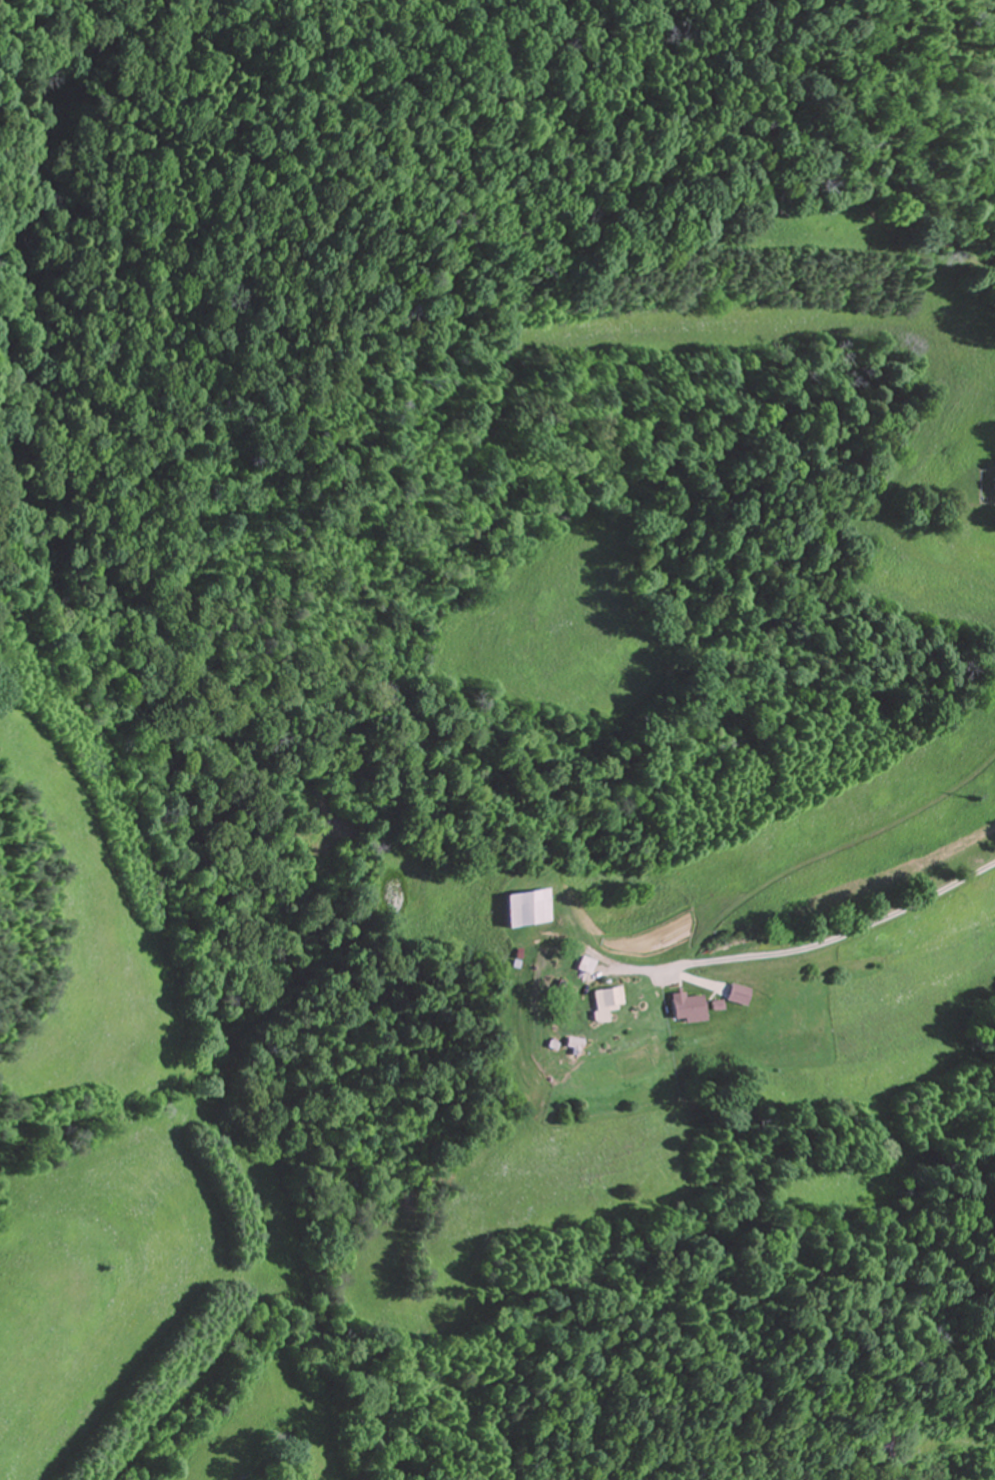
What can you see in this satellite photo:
building: (525, 908)
road: (831, 946)
building: (587, 965)
building: (746, 995)
building: (609, 1002)
building: (693, 1008)
building: (578, 1044)

